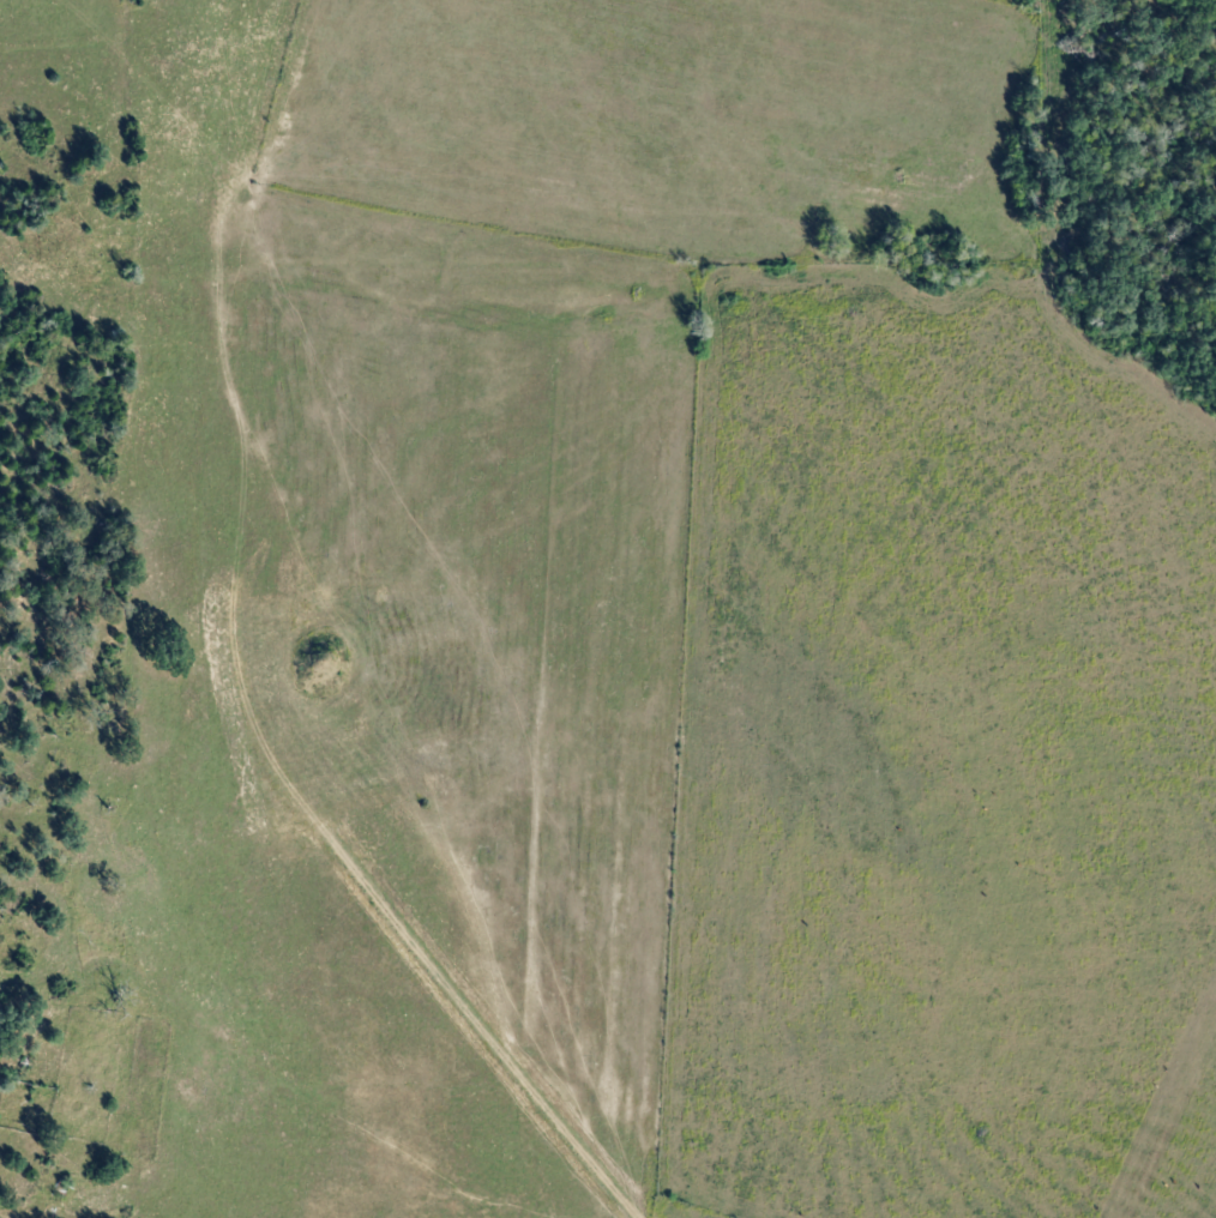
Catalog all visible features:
road: (518, 575)
road: (187, 1142)

